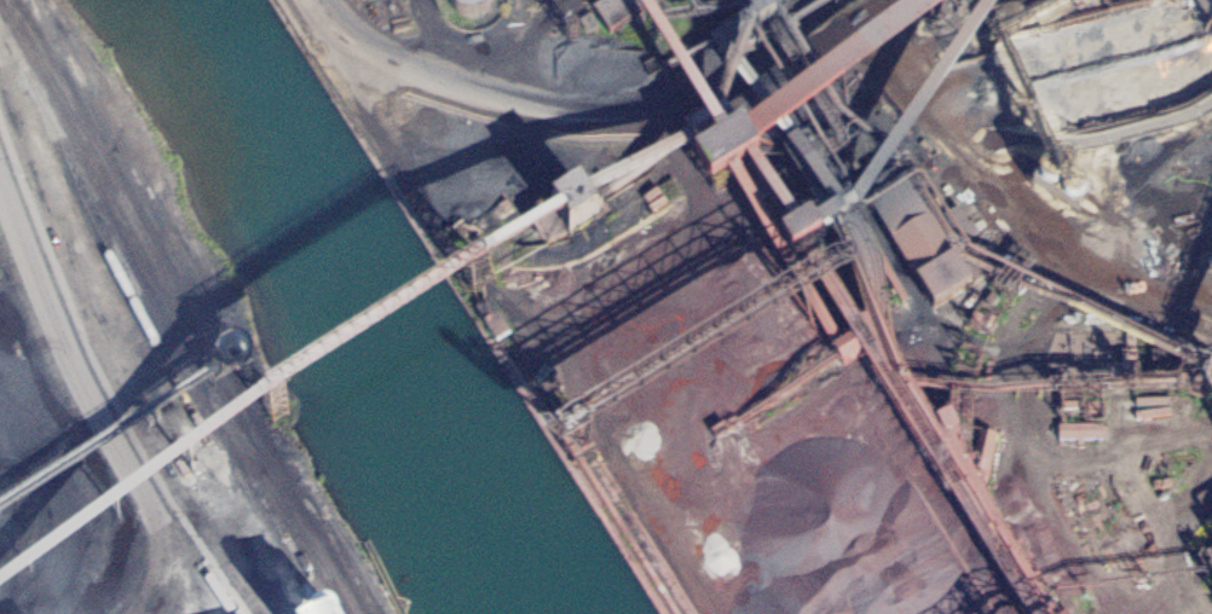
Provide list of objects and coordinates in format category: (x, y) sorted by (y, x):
landfill: (7, 584)

